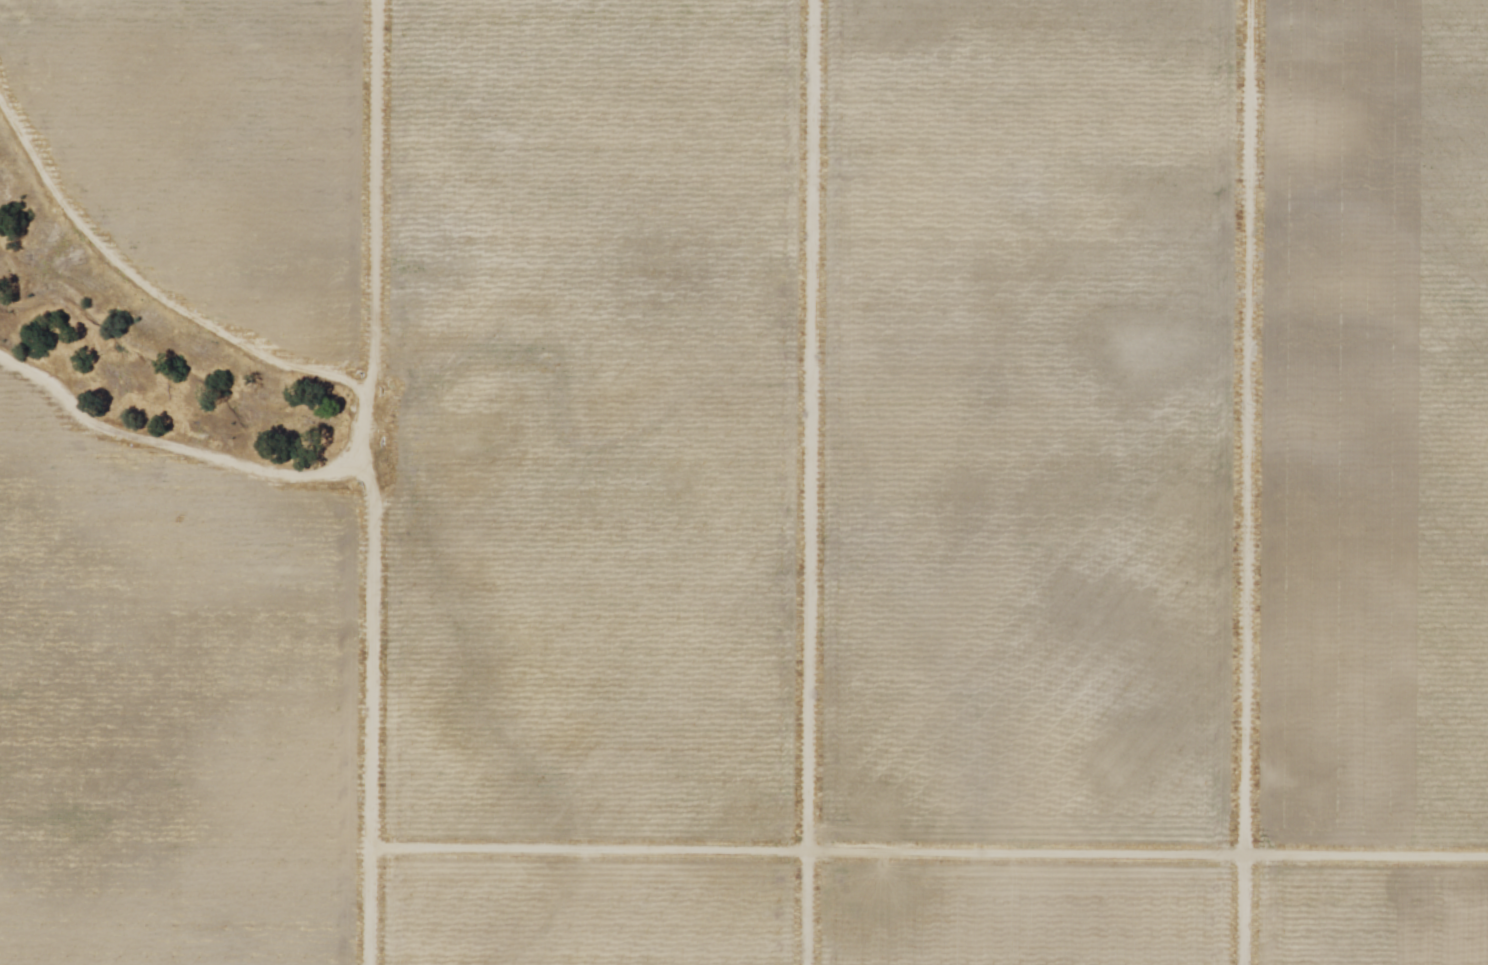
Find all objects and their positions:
road: (148, 292)
road: (172, 447)
road: (370, 482)
road: (810, 482)
road: (1248, 482)
road: (930, 853)

